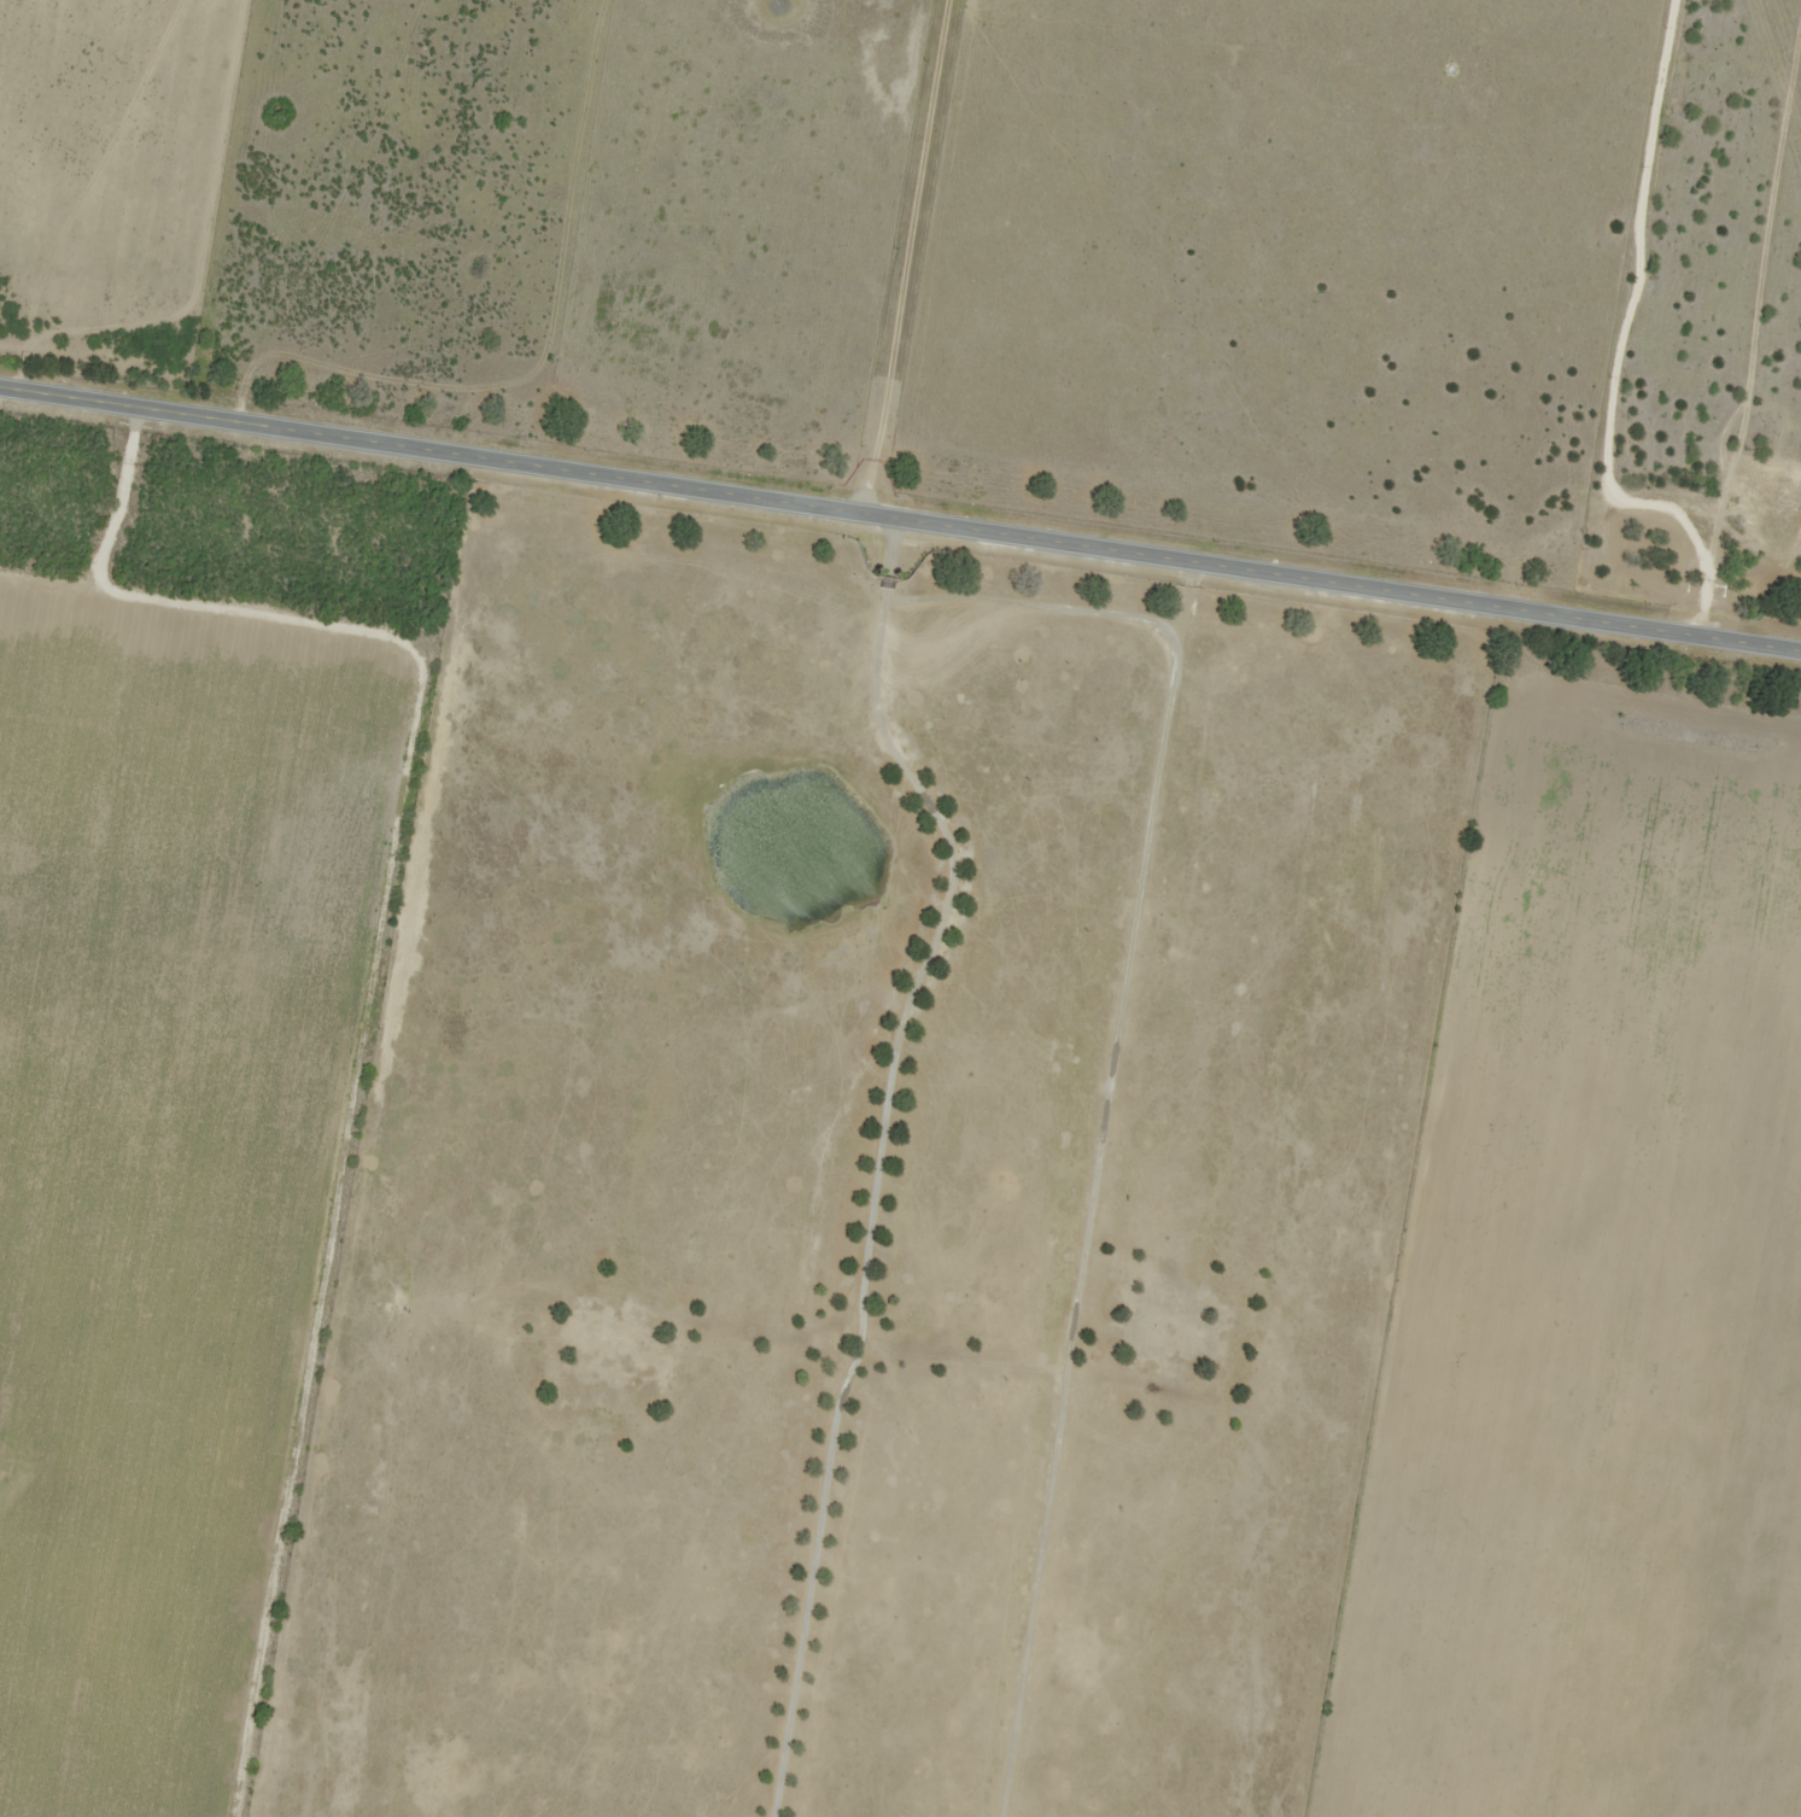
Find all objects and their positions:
road: (900, 521)
road: (1024, 610)
airport runway: (1269, 946)
road: (873, 1155)
road: (1094, 1190)

